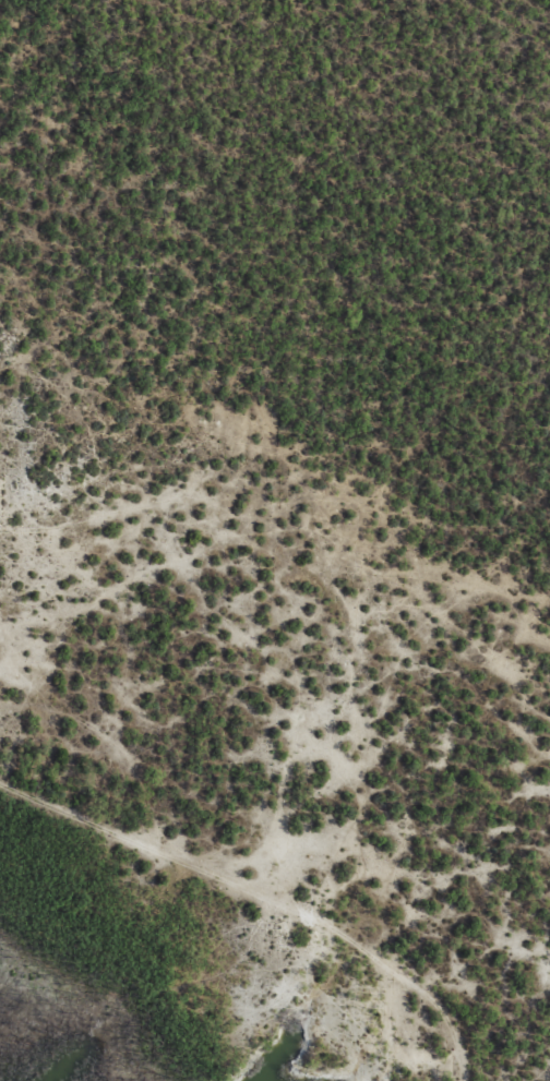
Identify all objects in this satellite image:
road: (261, 897)

